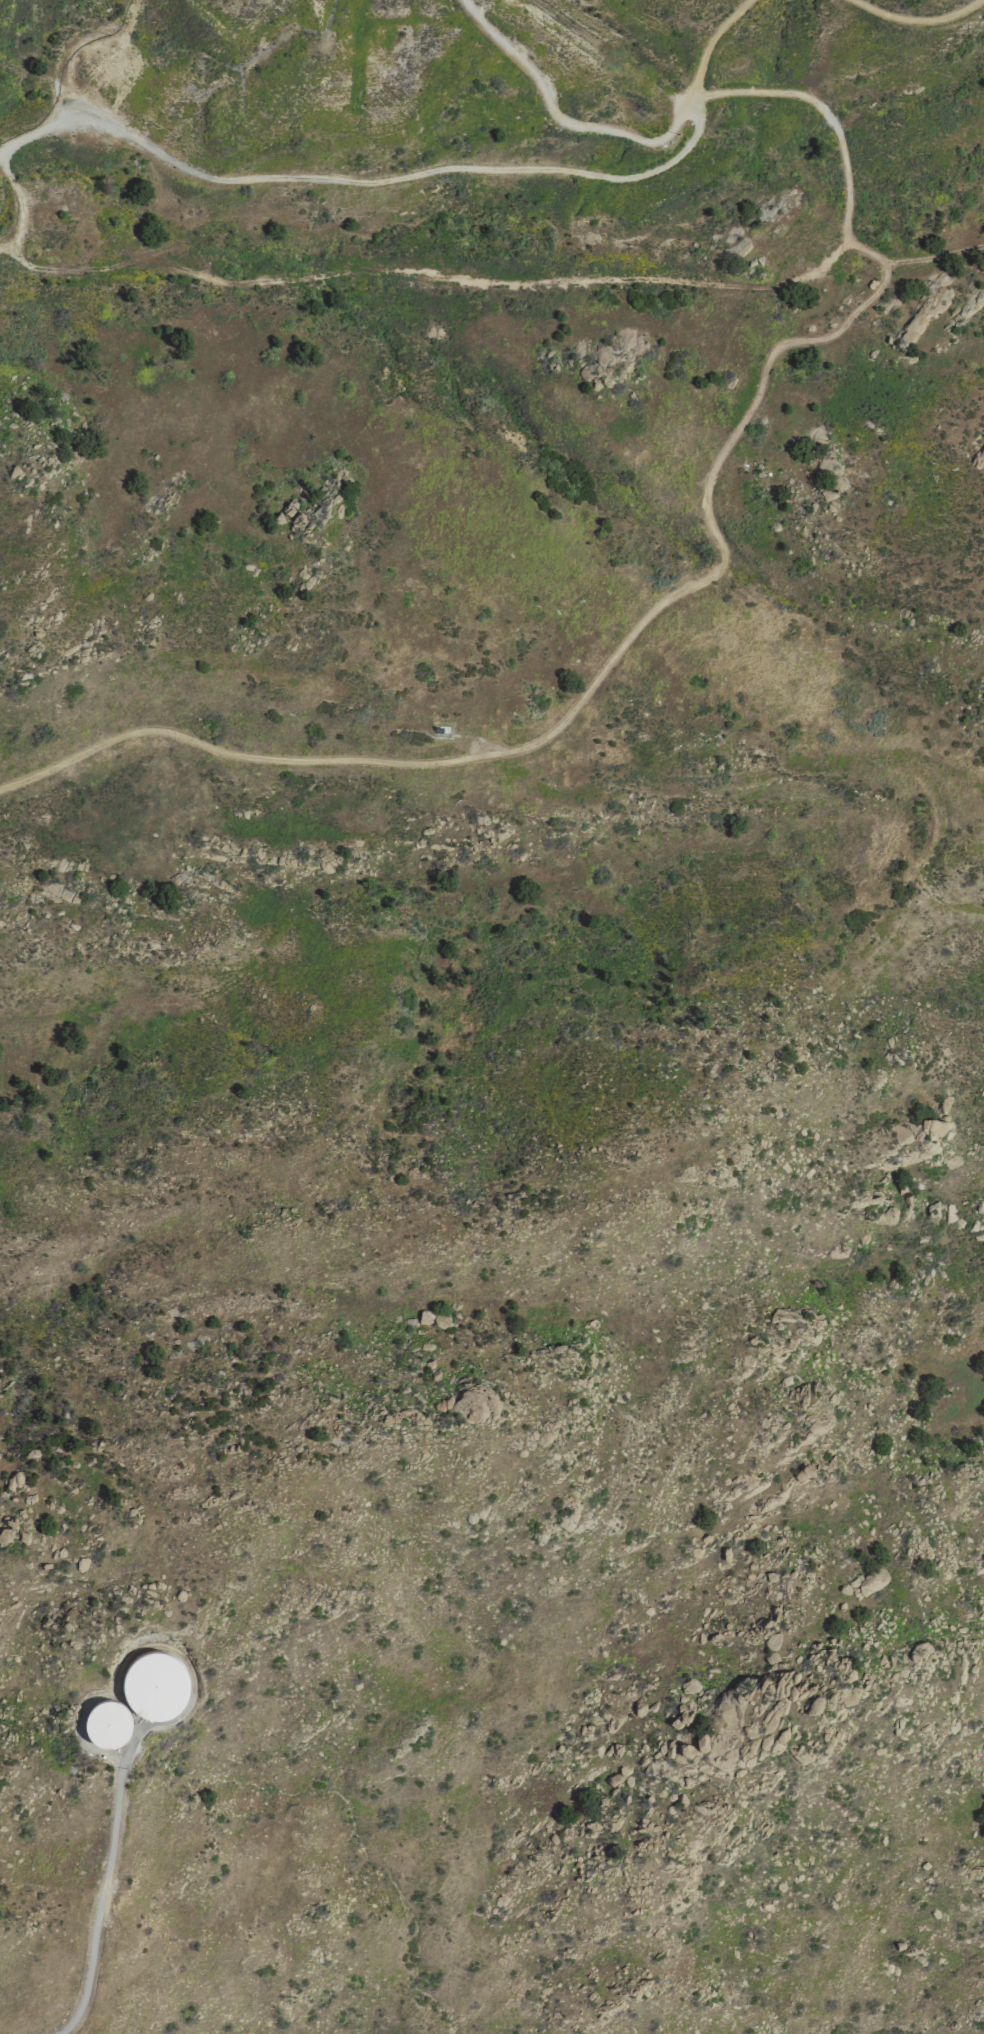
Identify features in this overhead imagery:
road: (522, 62)
building: (12, 472)
road: (720, 548)
building: (154, 1686)
building: (107, 1724)
road: (100, 1902)

